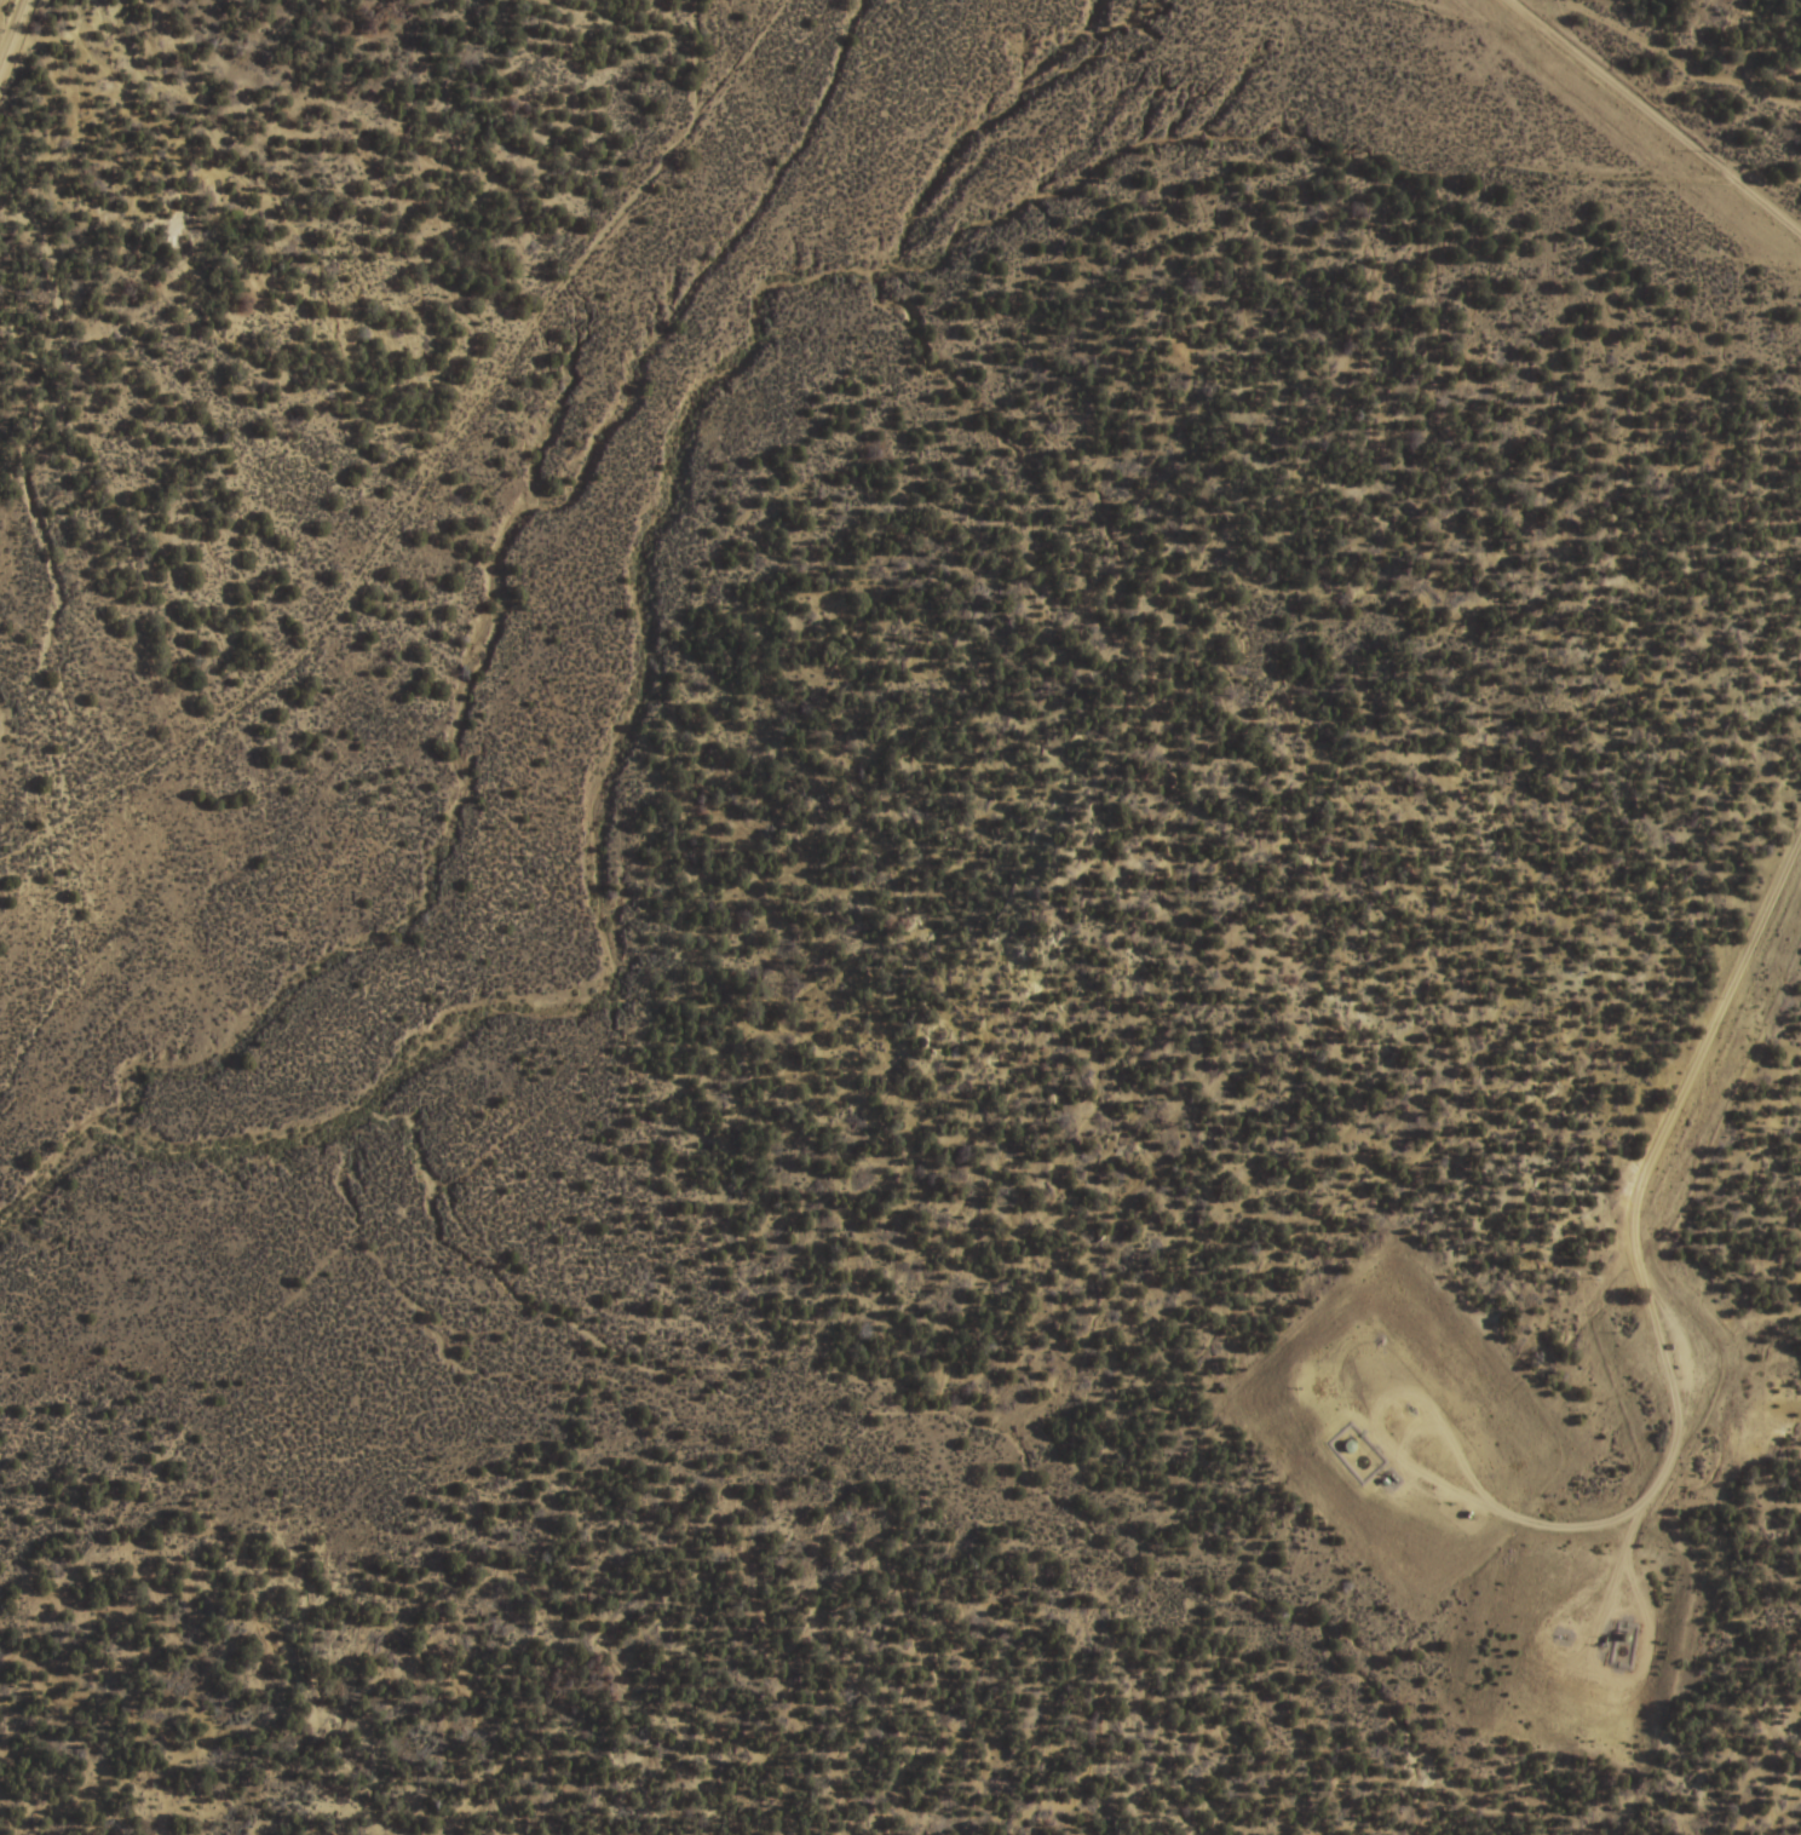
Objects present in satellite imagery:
road: (18, 48)
road: (1679, 91)
road: (1627, 138)
river: (609, 712)

